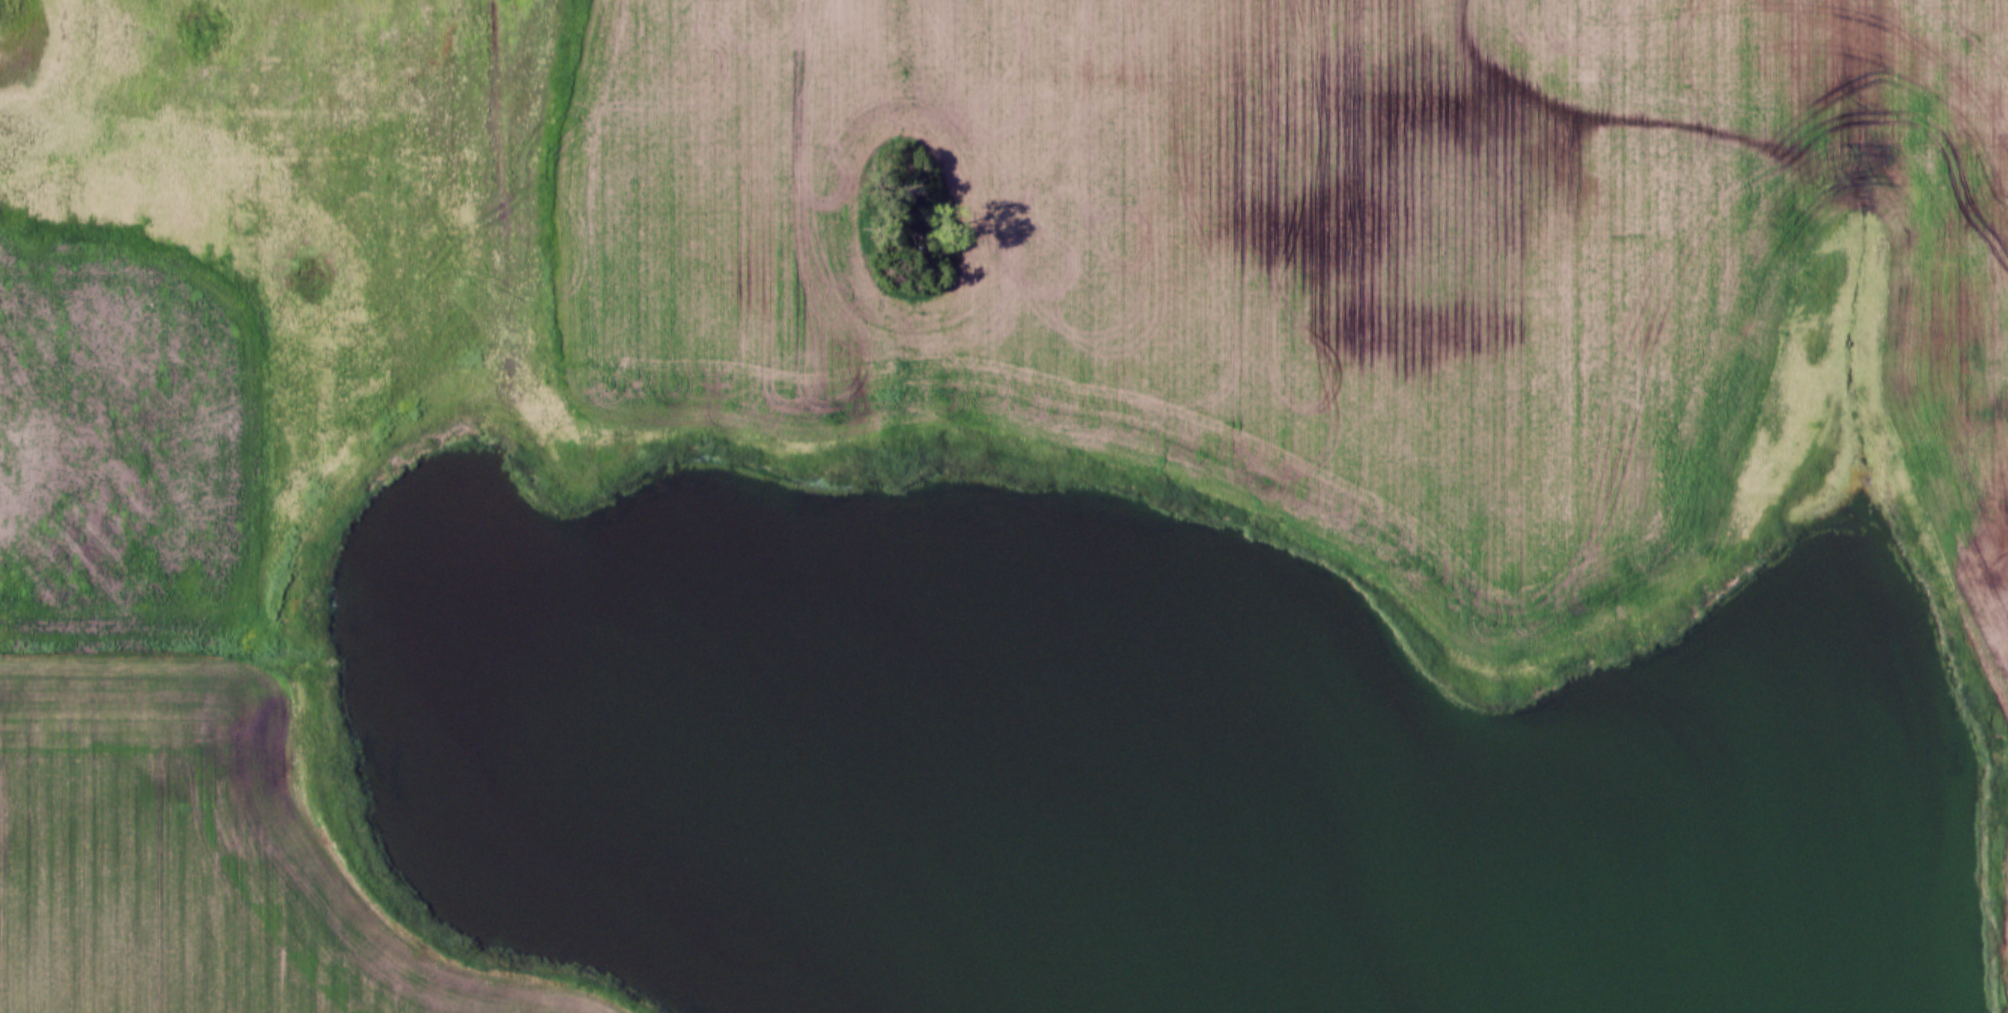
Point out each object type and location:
road: (305, 147)

